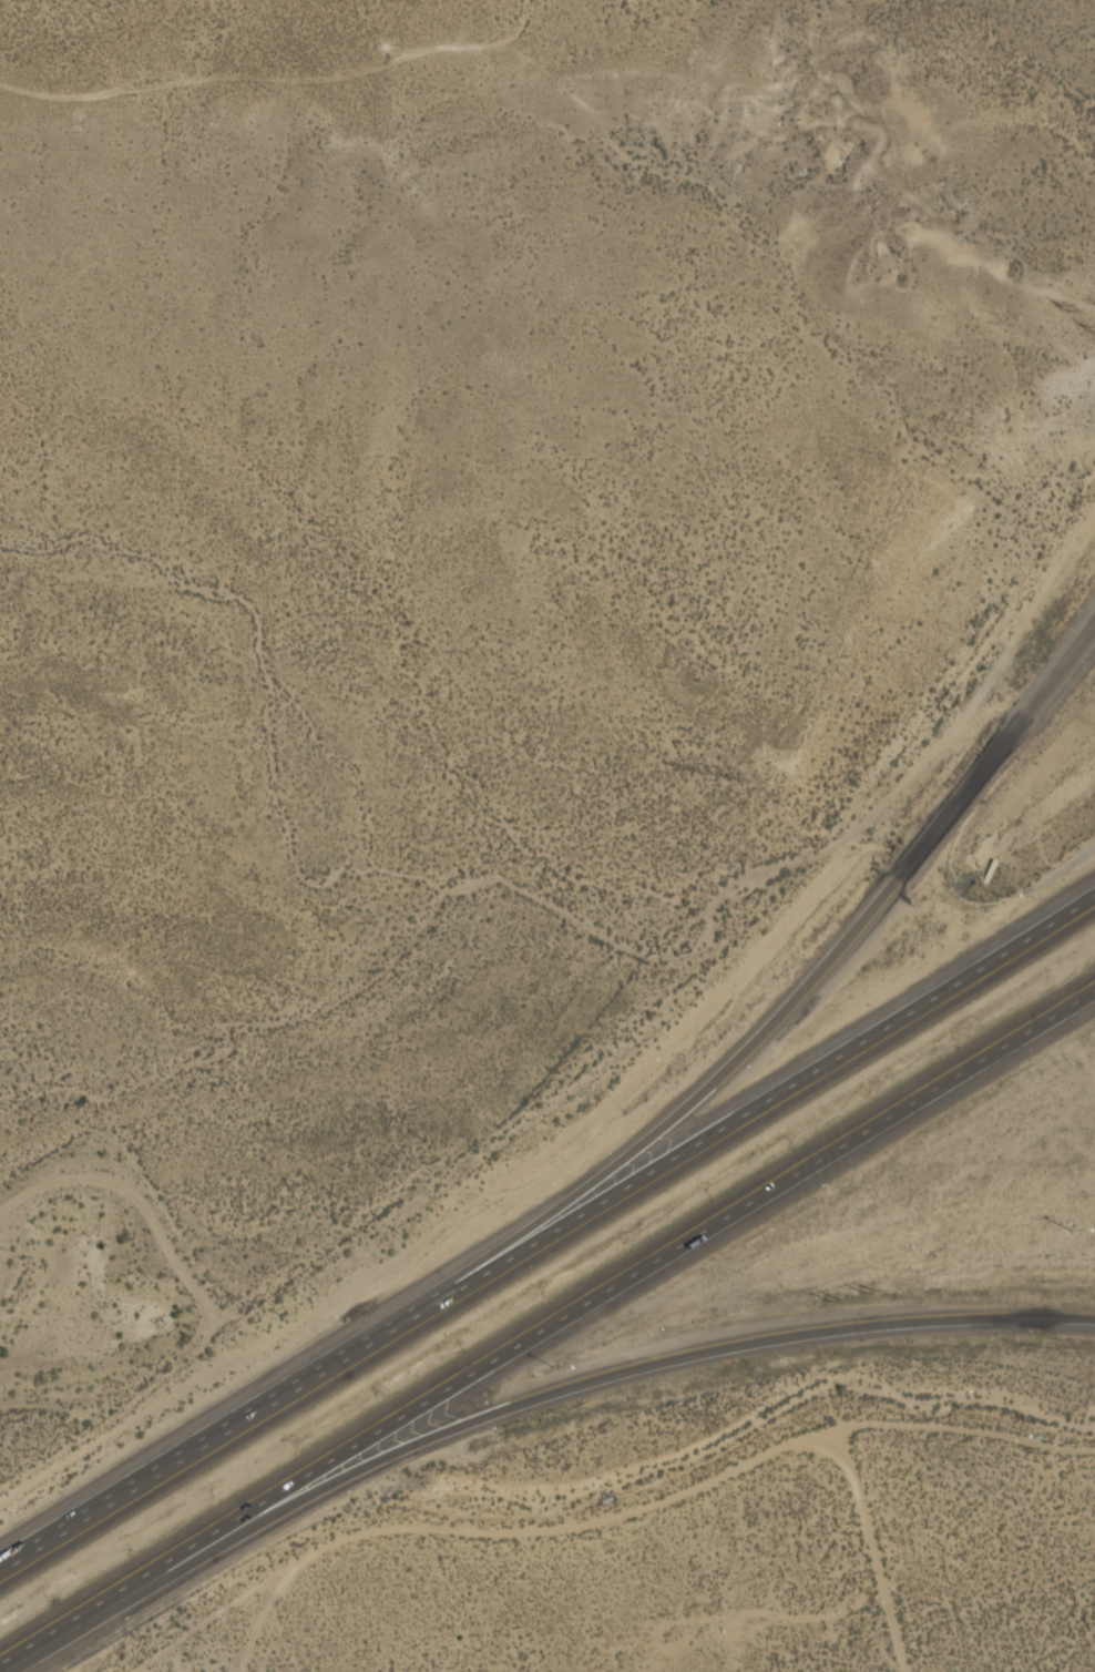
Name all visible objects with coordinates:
power tower: (1061, 304)
power tower: (1085, 324)
power tower: (690, 773)
power tower: (727, 779)
street lamp: (1002, 897)
road: (801, 989)
road: (772, 1095)
street lamp: (1072, 1231)
road: (627, 1278)
power tower: (868, 1295)
power tower: (832, 1302)
street lamp: (555, 1367)
road: (610, 1376)
road: (223, 1427)
road: (868, 1553)
road: (80, 1617)

